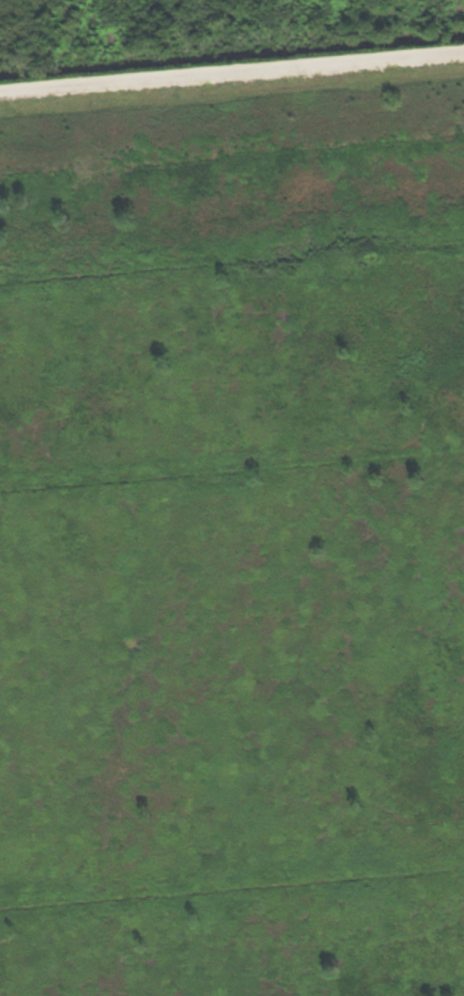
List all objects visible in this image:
road: (232, 72)

